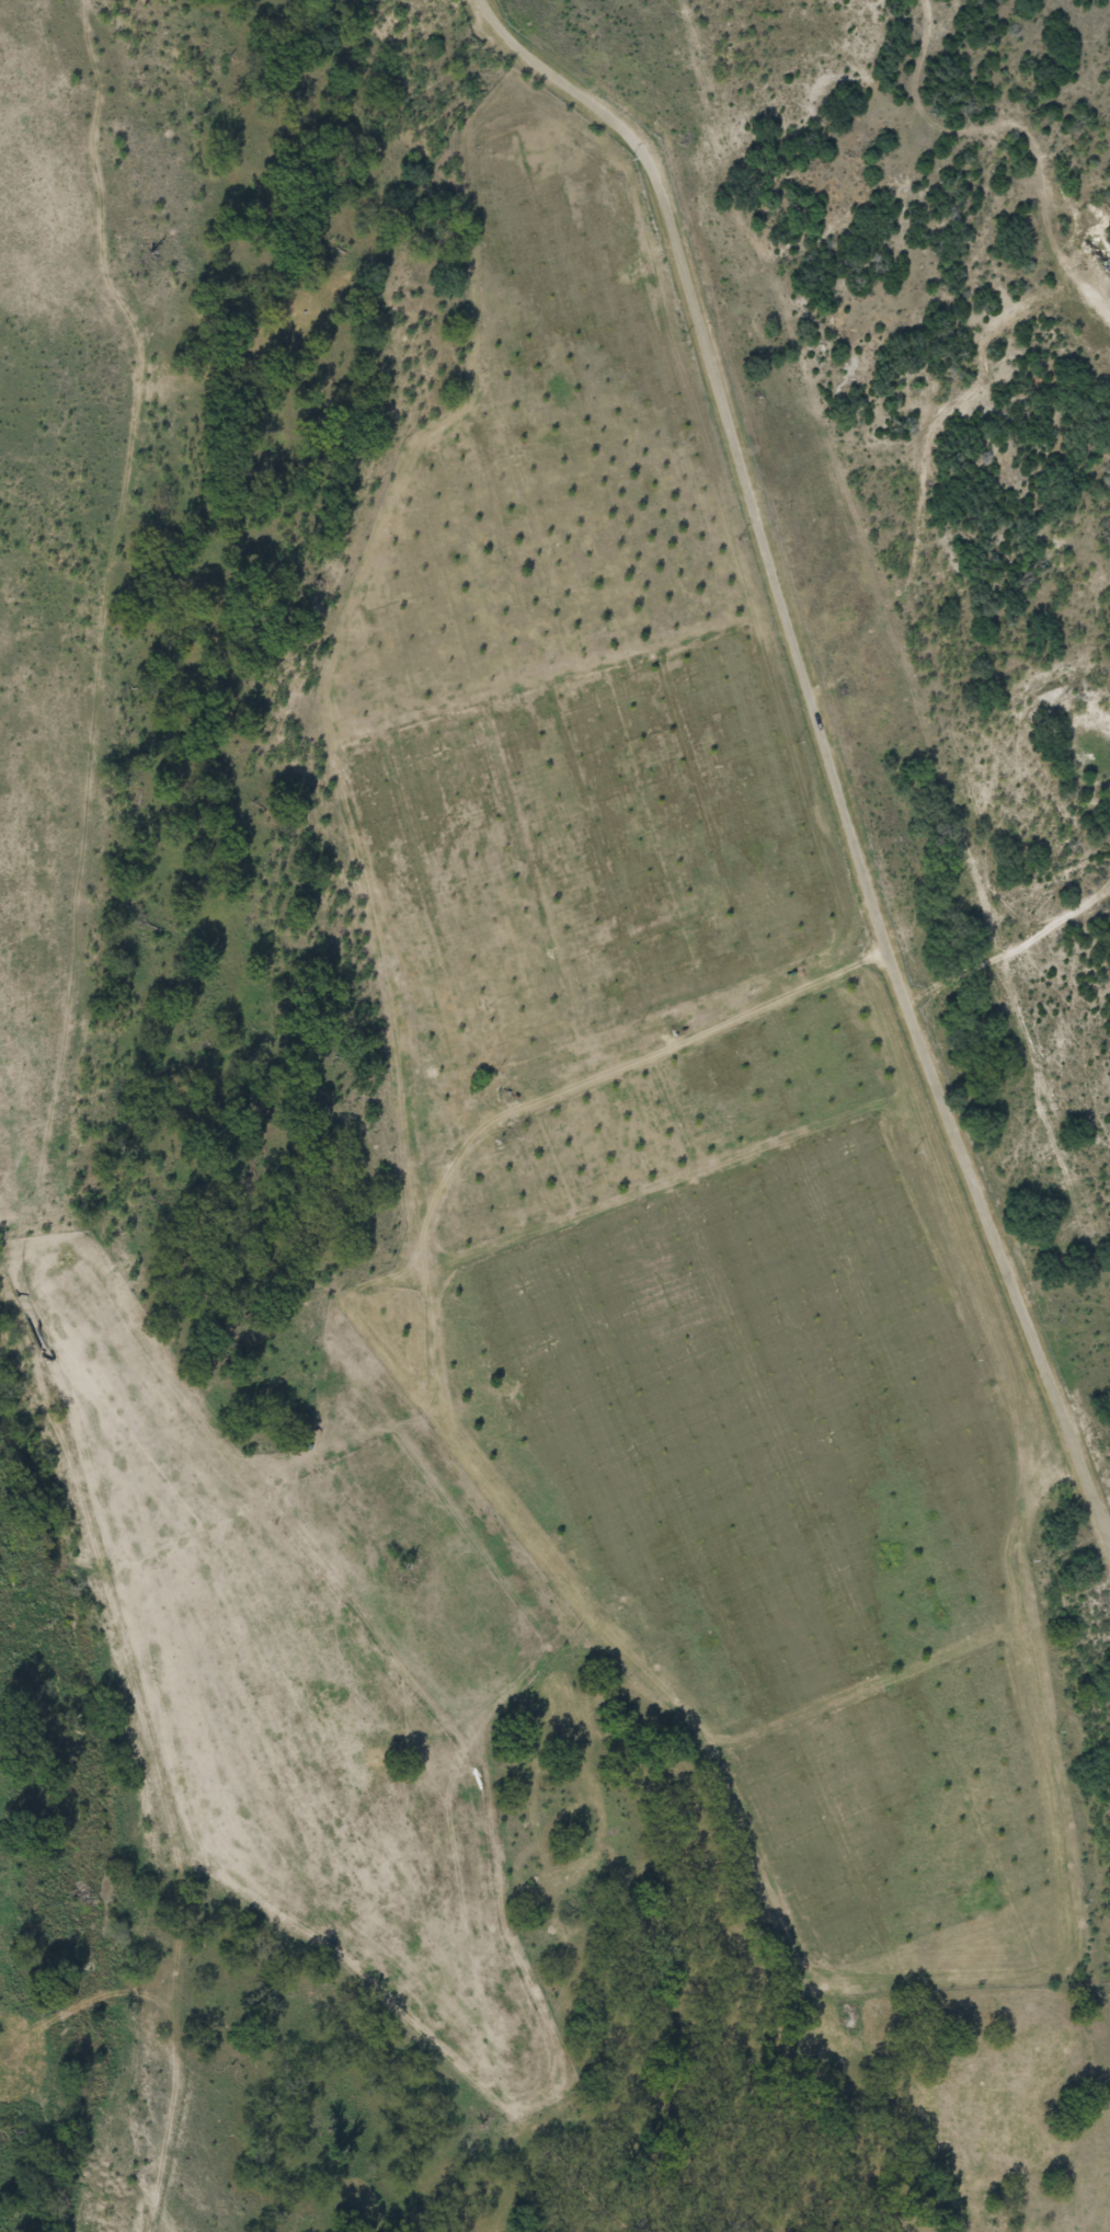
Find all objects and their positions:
railway: (885, 678)
road: (827, 740)
road: (440, 1077)

